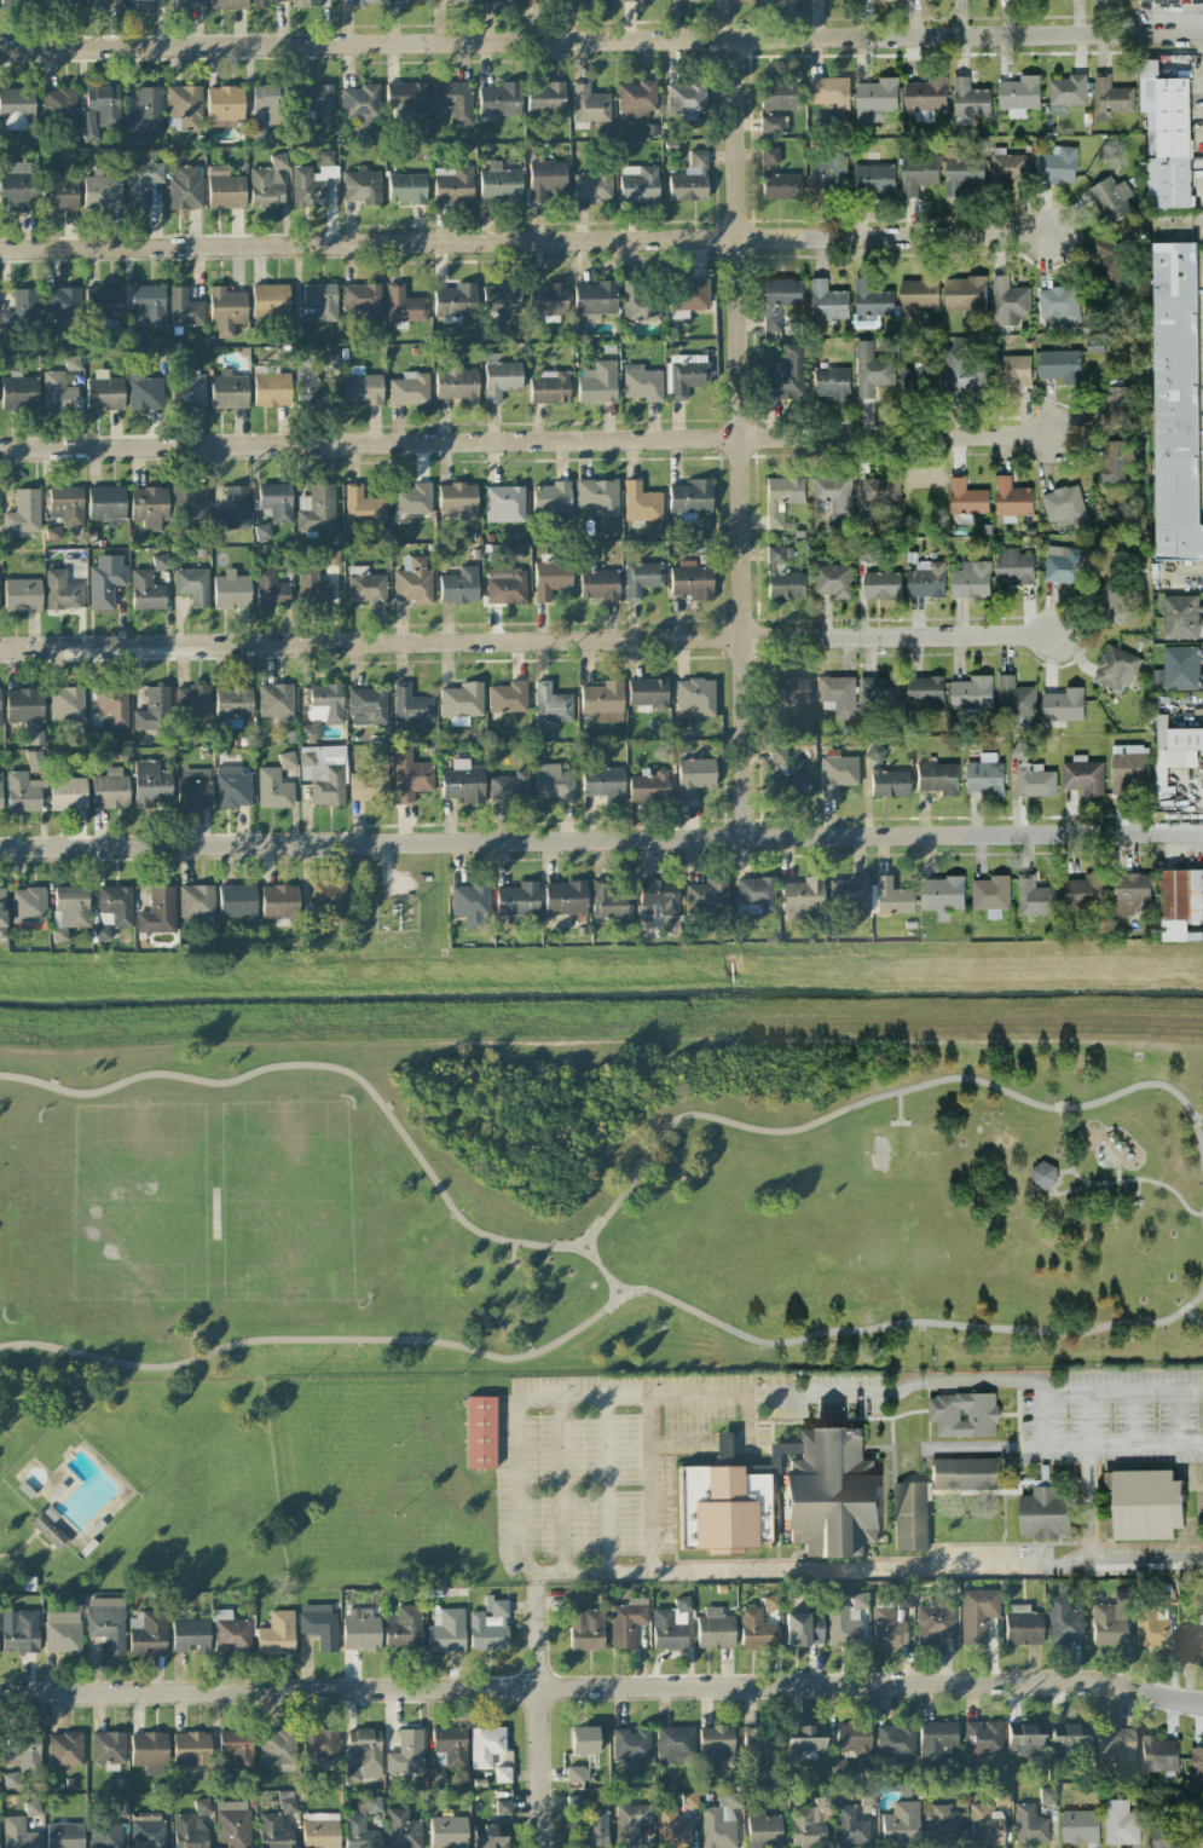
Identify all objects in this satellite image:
building: (452, 0)
building: (595, 0)
building: (629, 0)
building: (740, 0)
building: (306, 1)
building: (404, 1)
building: (497, 1)
building: (531, 1)
building: (58, 2)
building: (357, 2)
building: (15, 4)
building: (104, 4)
building: (187, 4)
building: (227, 4)
building: (140, 5)
road: (601, 40)
building: (828, 92)
building: (1019, 92)
building: (1066, 92)
building: (926, 93)
building: (779, 94)
building: (1111, 94)
building: (405, 96)
building: (545, 98)
building: (686, 98)
building: (875, 98)
building: (970, 98)
building: (636, 99)
building: (453, 100)
building: (59, 102)
building: (271, 102)
building: (498, 102)
building: (318, 103)
building: (16, 104)
building: (360, 104)
building: (224, 105)
building: (589, 106)
building: (183, 108)
building: (99, 111)
building: (145, 112)
building: (774, 125)
building: (1166, 137)
building: (769, 157)
building: (1057, 164)
building: (1008, 166)
building: (961, 172)
building: (918, 173)
building: (827, 175)
building: (544, 179)
building: (689, 179)
building: (873, 179)
building: (312, 180)
building: (140, 183)
building: (267, 183)
building: (452, 184)
building: (499, 184)
building: (637, 184)
building: (16, 185)
building: (362, 186)
building: (781, 186)
building: (406, 187)
building: (592, 187)
building: (185, 189)
building: (224, 189)
building: (102, 191)
building: (59, 192)
building: (1110, 198)
road: (525, 242)
building: (919, 291)
building: (965, 293)
building: (688, 296)
building: (594, 298)
building: (501, 299)
building: (779, 299)
building: (1008, 299)
building: (270, 300)
building: (320, 300)
building: (362, 300)
building: (827, 300)
building: (455, 301)
building: (546, 301)
building: (641, 301)
building: (871, 301)
building: (103, 302)
building: (148, 305)
building: (404, 305)
building: (1058, 305)
building: (63, 306)
building: (184, 308)
building: (226, 310)
building: (21, 311)
building: (329, 358)
building: (1059, 364)
building: (872, 369)
building: (1011, 369)
building: (962, 371)
building: (785, 374)
building: (686, 375)
building: (305, 377)
building: (499, 377)
building: (920, 377)
building: (597, 382)
building: (831, 382)
building: (642, 383)
building: (456, 385)
building: (548, 387)
building: (189, 388)
building: (271, 388)
building: (362, 388)
building: (409, 389)
building: (144, 391)
building: (227, 391)
building: (18, 392)
building: (58, 392)
building: (104, 392)
building: (1116, 399)
building: (1175, 402)
road: (741, 439)
road: (525, 440)
building: (1116, 461)
building: (880, 491)
building: (833, 493)
building: (597, 496)
building: (690, 496)
building: (550, 497)
building: (781, 497)
building: (966, 497)
building: (1011, 497)
building: (412, 499)
building: (458, 499)
building: (105, 502)
building: (189, 502)
building: (276, 502)
building: (504, 503)
building: (641, 503)
building: (66, 504)
building: (363, 506)
building: (1064, 506)
building: (149, 507)
building: (232, 509)
building: (317, 509)
building: (23, 513)
building: (1063, 564)
building: (1013, 566)
building: (782, 576)
building: (505, 577)
building: (641, 578)
building: (550, 579)
building: (833, 579)
building: (926, 579)
building: (971, 579)
building: (105, 581)
building: (690, 581)
building: (413, 582)
building: (314, 584)
building: (598, 584)
building: (881, 584)
building: (192, 585)
building: (365, 585)
building: (459, 585)
building: (271, 589)
building: (60, 590)
building: (231, 590)
building: (146, 591)
building: (22, 595)
building: (1181, 616)
road: (526, 642)
building: (1182, 666)
building: (1115, 668)
building: (788, 689)
building: (0, 691)
building: (925, 691)
building: (879, 692)
building: (971, 692)
building: (647, 693)
building: (837, 694)
building: (695, 695)
building: (1014, 697)
building: (507, 698)
building: (232, 701)
building: (602, 701)
building: (65, 703)
building: (276, 703)
building: (325, 703)
building: (461, 703)
building: (112, 704)
building: (192, 704)
building: (550, 704)
building: (1063, 704)
building: (23, 705)
building: (411, 705)
building: (368, 706)
building: (154, 710)
building: (777, 714)
building: (310, 730)
building: (1174, 747)
building: (874, 752)
building: (287, 760)
building: (34, 761)
building: (1128, 766)
building: (837, 772)
building: (324, 774)
building: (1031, 774)
building: (984, 775)
building: (1083, 775)
building: (410, 776)
building: (694, 776)
building: (786, 776)
building: (937, 778)
building: (602, 781)
building: (462, 782)
building: (553, 782)
building: (889, 782)
building: (150, 784)
building: (369, 784)
building: (648, 786)
building: (0, 787)
building: (193, 787)
building: (232, 787)
building: (509, 787)
building: (273, 789)
building: (110, 790)
building: (23, 792)
building: (66, 793)
road: (601, 841)
building: (848, 893)
building: (942, 893)
building: (1130, 893)
building: (990, 894)
building: (707, 895)
building: (756, 895)
building: (659, 896)
building: (1035, 896)
building: (565, 897)
building: (800, 897)
building: (892, 897)
building: (517, 900)
building: (195, 901)
building: (1179, 901)
building: (609, 902)
building: (237, 903)
building: (278, 903)
building: (329, 903)
building: (470, 903)
building: (28, 905)
building: (115, 905)
building: (69, 909)
building: (157, 912)
road: (895, 1108)
road: (1197, 1116)
road: (896, 1124)
road: (1115, 1160)
building: (1043, 1174)
road: (1107, 1183)
road: (1068, 1190)
road: (1134, 1191)
road: (614, 1202)
park: (598, 1208)
road: (580, 1253)
road: (510, 1254)
road: (598, 1272)
road: (618, 1288)
road: (1193, 1295)
road: (591, 1317)
road: (1190, 1319)
road: (1069, 1321)
road: (522, 1345)
road: (1124, 1392)
building: (965, 1414)
road: (1179, 1416)
road: (1047, 1417)
road: (1086, 1417)
road: (1130, 1417)
building: (481, 1432)
road: (722, 1442)
road: (1124, 1443)
road: (990, 1444)
building: (722, 1445)
building: (965, 1473)
road: (648, 1484)
road: (562, 1486)
road: (606, 1486)
park: (138, 1488)
building: (832, 1494)
road: (1087, 1497)
flagpole: (1202, 1497)
road: (519, 1501)
building: (1144, 1503)
building: (722, 1509)
flagpole: (1202, 1511)
building: (1045, 1513)
building: (909, 1517)
building: (48, 1530)
road: (42, 1541)
road: (21, 1548)
road: (1145, 1553)
road: (533, 1582)
building: (903, 1600)
building: (770, 1602)
building: (977, 1613)
building: (1063, 1621)
building: (626, 1622)
building: (845, 1622)
building: (1110, 1622)
building: (106, 1623)
building: (935, 1623)
building: (319, 1624)
building: (488, 1625)
building: (670, 1625)
building: (1022, 1625)
building: (1151, 1625)
building: (404, 1628)
building: (803, 1628)
building: (886, 1628)
building: (63, 1629)
building: (585, 1629)
building: (715, 1629)
building: (754, 1629)
building: (360, 1630)
building: (447, 1632)
building: (21, 1633)
building: (148, 1633)
building: (231, 1633)
building: (276, 1634)
building: (190, 1635)
building: (1193, 1636)
road: (602, 1688)
road: (537, 1717)
building: (854, 1738)
building: (583, 1739)
building: (805, 1739)
building: (982, 1739)
building: (1068, 1739)
building: (895, 1740)
building: (935, 1740)
building: (1023, 1740)
building: (675, 1744)
building: (320, 1745)
building: (277, 1746)
building: (716, 1746)
building: (1117, 1746)
building: (191, 1748)
building: (237, 1748)
building: (630, 1748)
building: (64, 1749)
building: (758, 1749)
building: (108, 1750)
building: (365, 1750)
building: (447, 1750)
building: (490, 1751)
building: (23, 1752)
building: (149, 1752)
building: (406, 1752)
building: (1158, 1754)
building: (840, 1767)
building: (1196, 1768)
building: (577, 1774)
building: (351, 1775)
building: (1047, 1795)
building: (1000, 1797)
building: (689, 1800)
building: (822, 1800)
building: (287, 1802)
building: (574, 1803)
building: (202, 1806)
building: (368, 1806)
building: (502, 1807)
building: (31, 1808)
building: (719, 1821)
building: (901, 1821)
building: (942, 1821)
building: (1120, 1823)
building: (232, 1824)
building: (985, 1825)
building: (1029, 1825)
building: (1080, 1825)
building: (809, 1826)
building: (850, 1826)
building: (763, 1829)
building: (319, 1830)
building: (401, 1830)
building: (592, 1830)
building: (672, 1830)
building: (146, 1831)
building: (189, 1831)
building: (273, 1831)
building: (358, 1832)
building: (447, 1832)
building: (17, 1833)
building: (64, 1835)
building: (1167, 1835)
building: (105, 1836)
building: (488, 1836)

